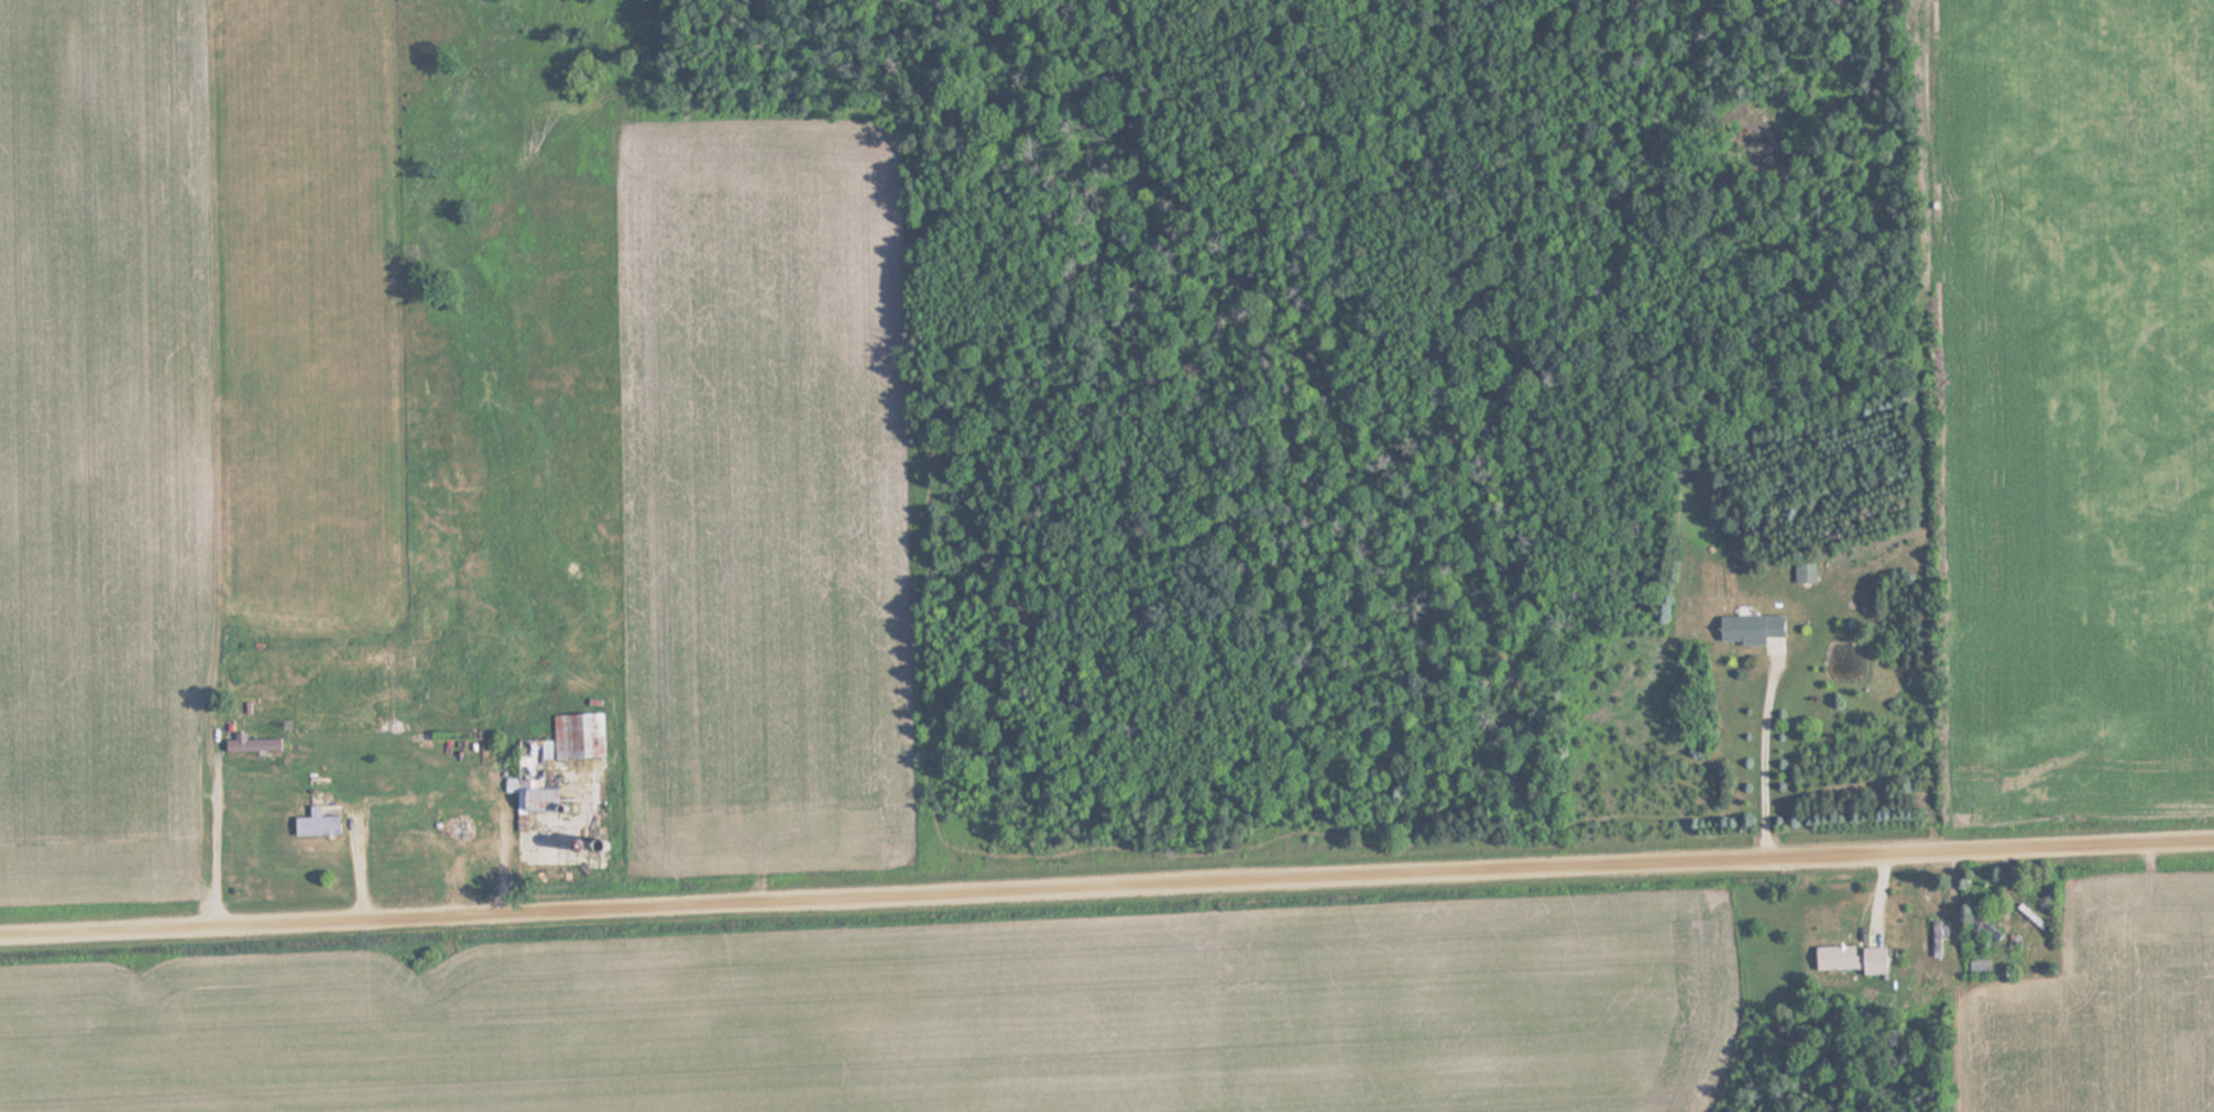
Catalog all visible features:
building: (1804, 573)
building: (1749, 629)
building: (249, 745)
building: (551, 759)
building: (315, 825)
road: (208, 843)
road: (1107, 890)
building: (1983, 926)
building: (1850, 958)

